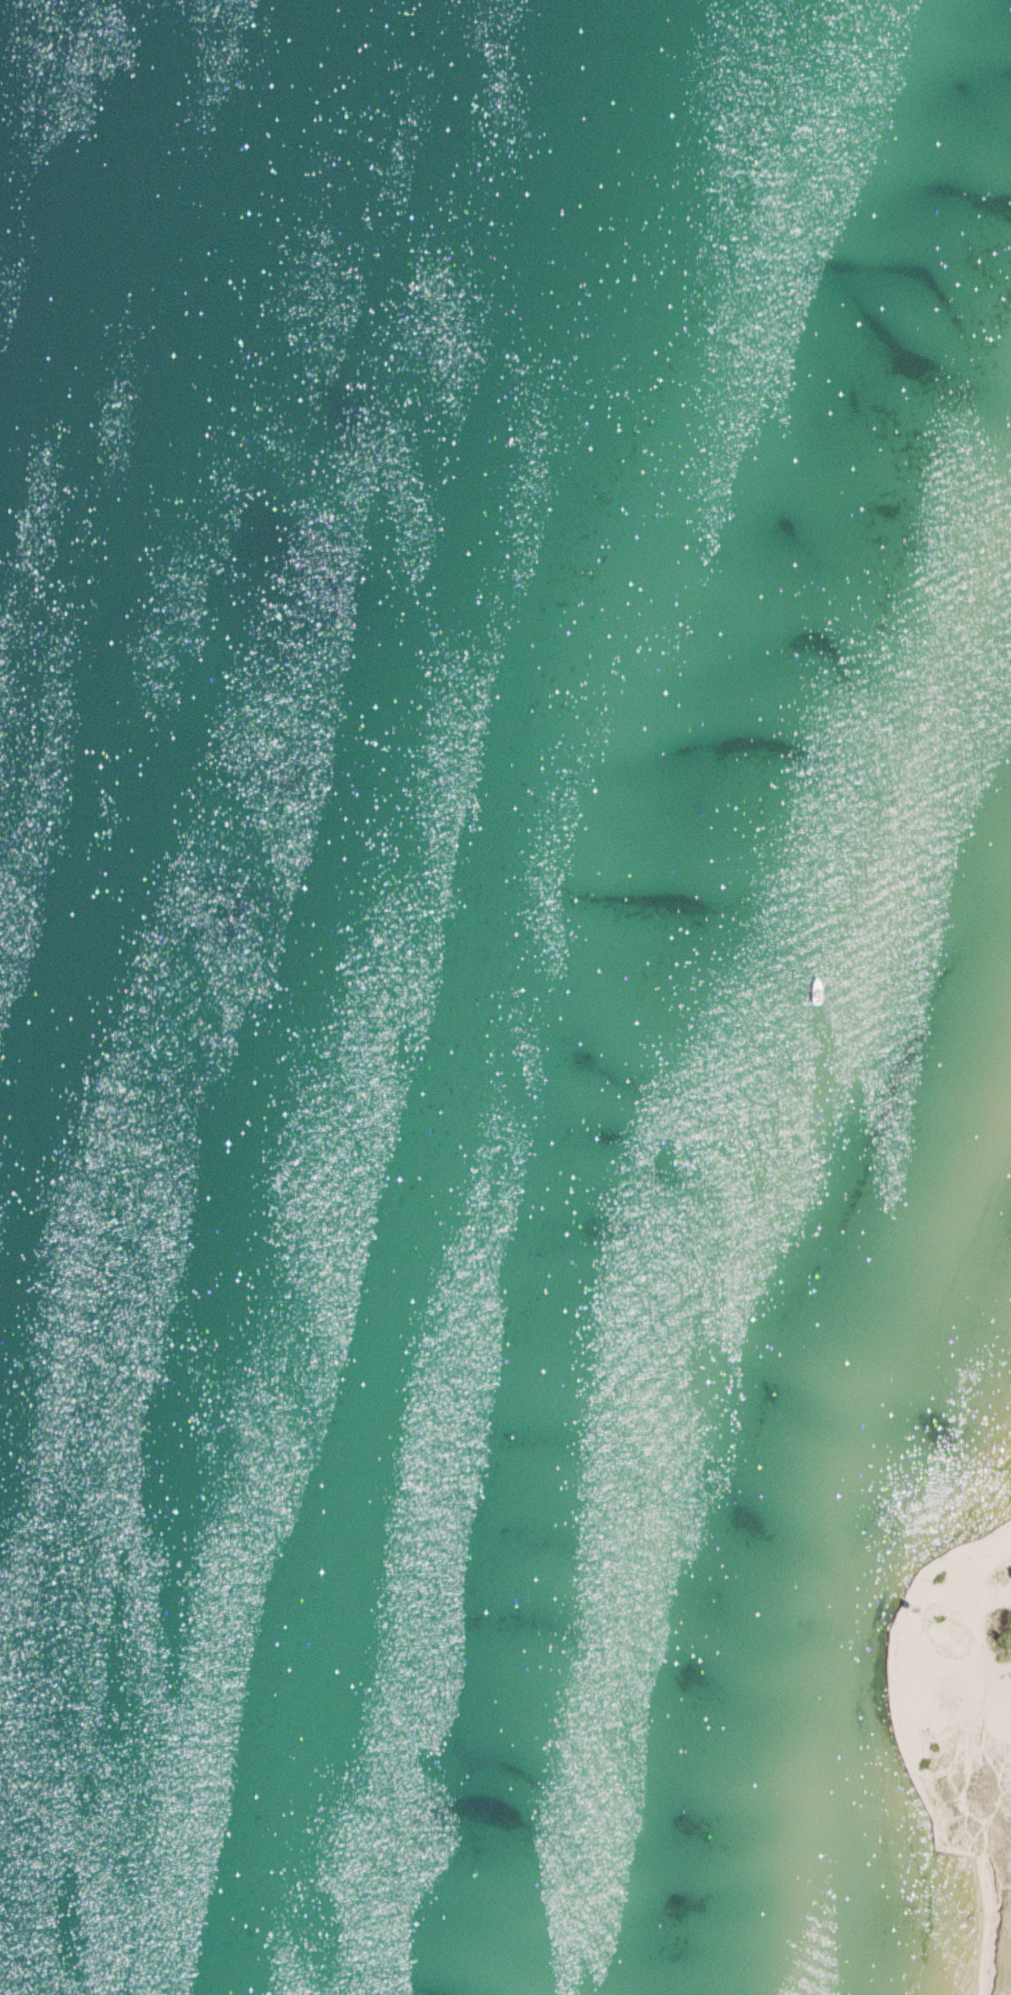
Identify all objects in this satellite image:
park: (959, 1680)

